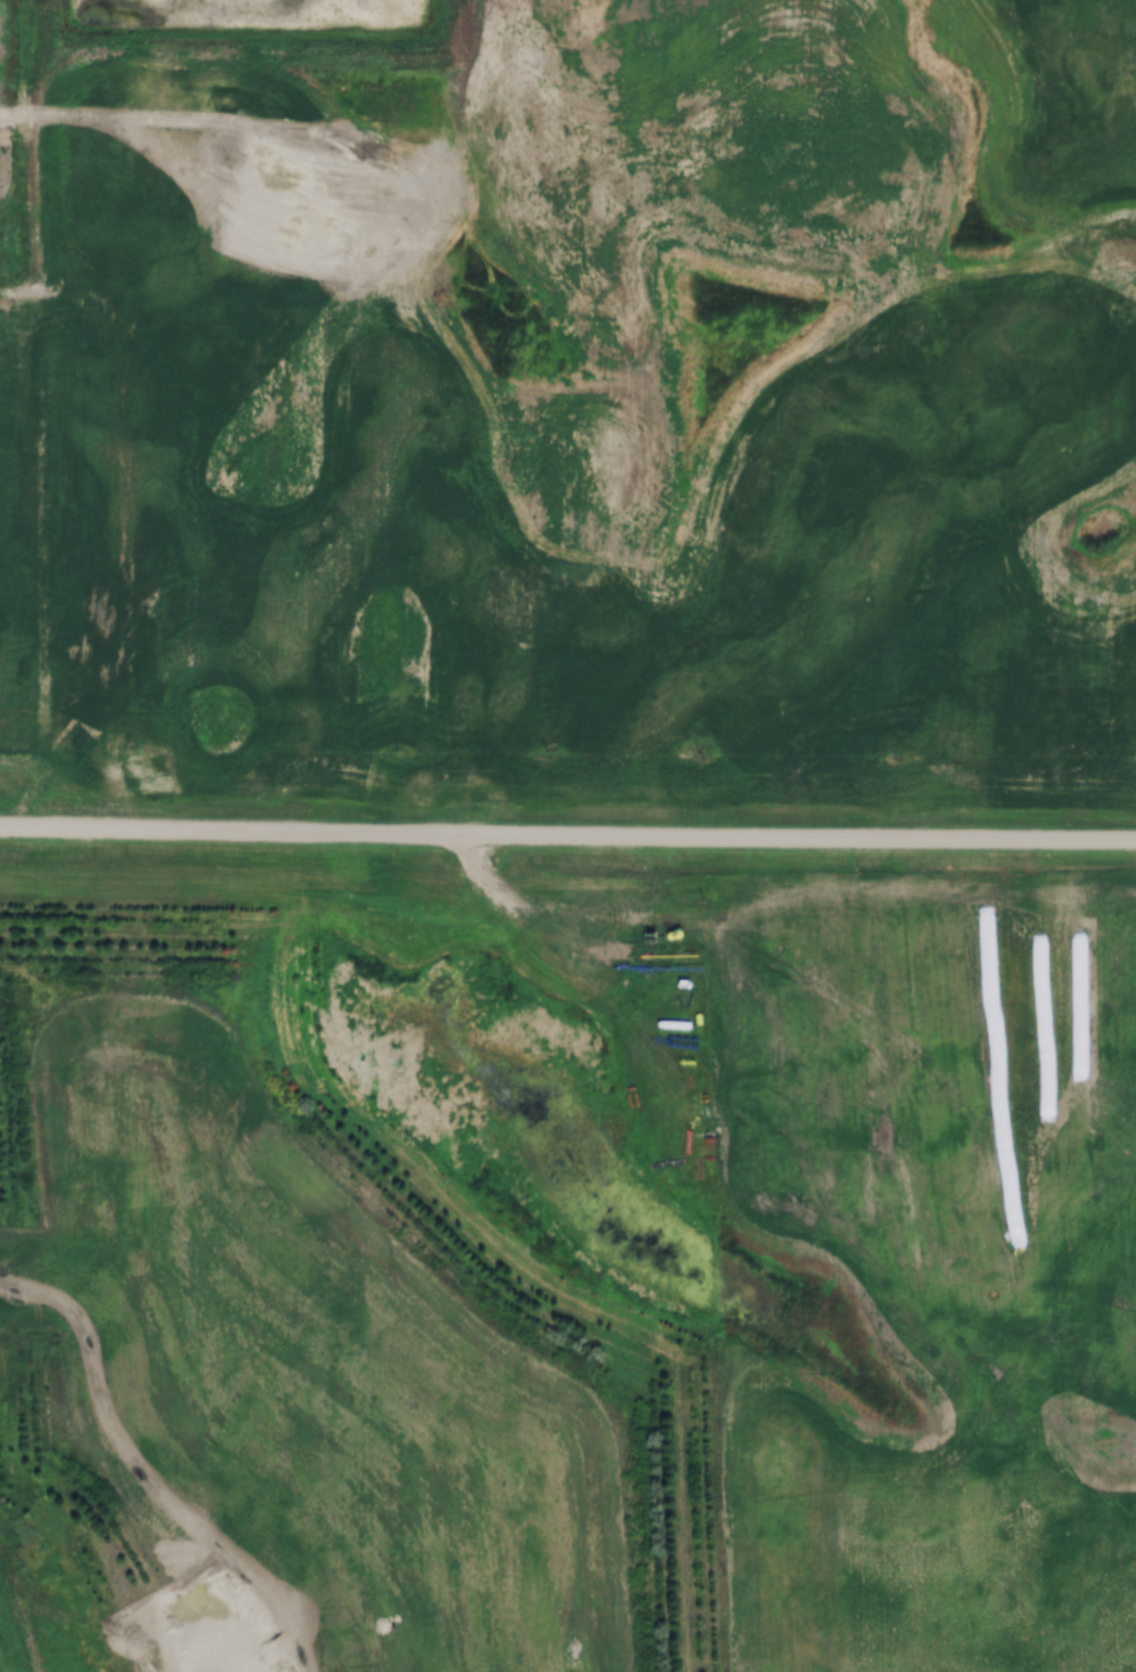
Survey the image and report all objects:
road: (567, 834)

